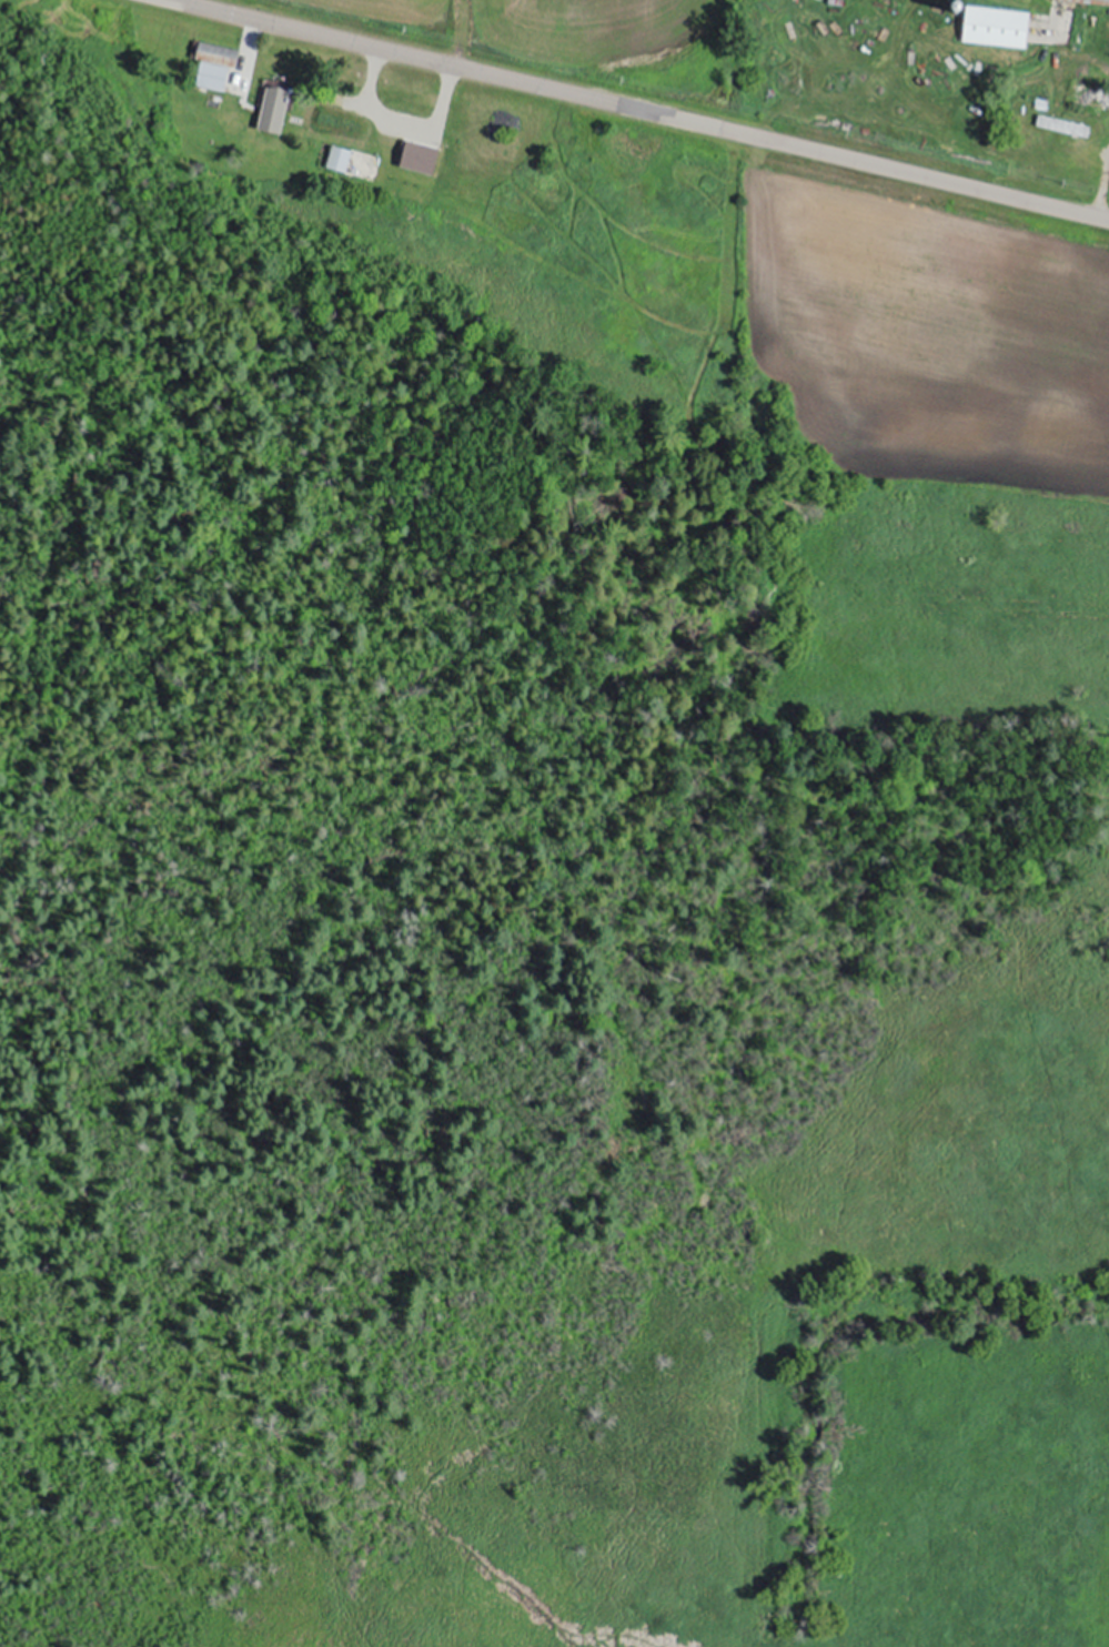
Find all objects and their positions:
building: (1091, 1)
building: (994, 27)
building: (212, 65)
building: (284, 79)
road: (626, 112)
building: (1058, 125)
building: (404, 127)
building: (339, 132)
building: (336, 159)
road: (1102, 194)

